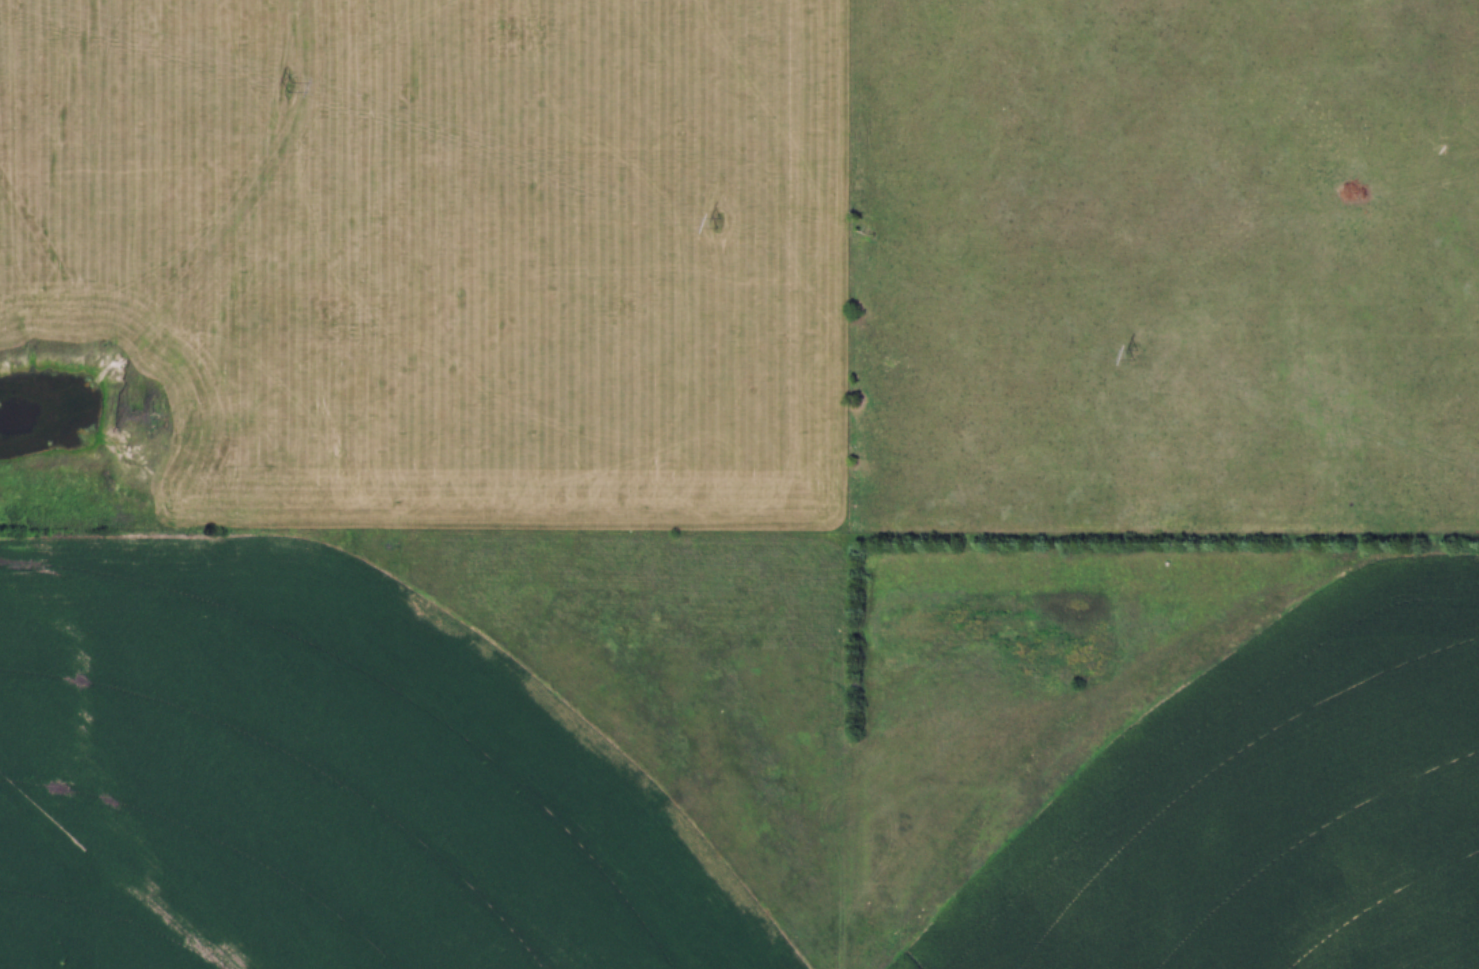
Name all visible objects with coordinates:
power tower: (291, 87)
power tower: (721, 222)
power tower: (1135, 353)

